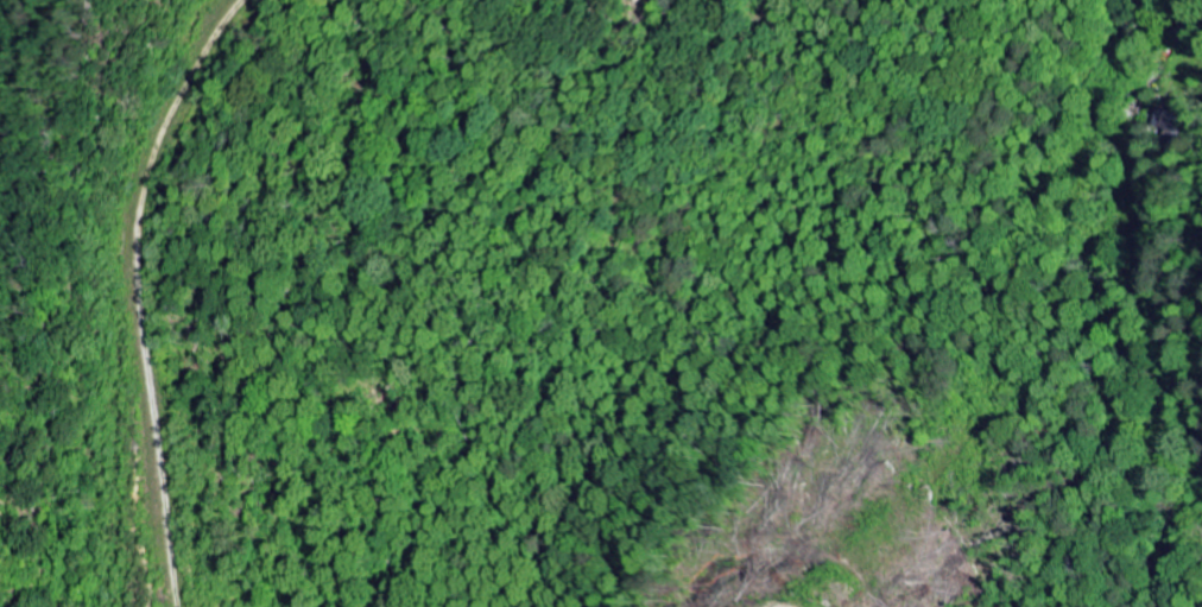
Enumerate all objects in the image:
road: (1181, 34)

